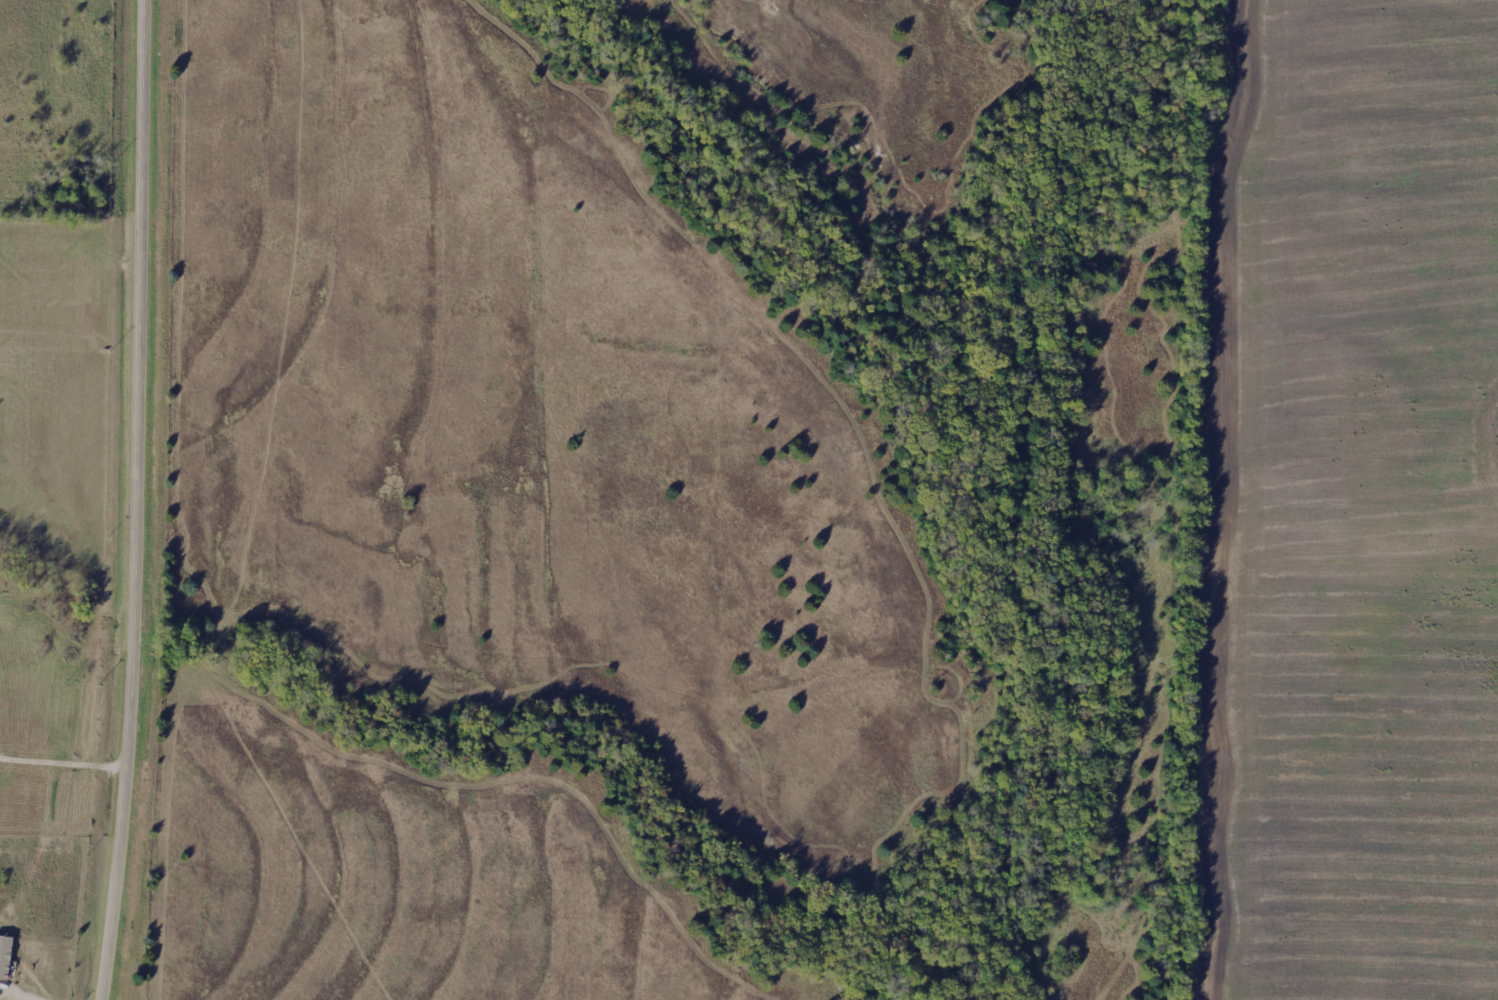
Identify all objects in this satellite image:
road: (142, 500)
road: (65, 759)
road: (25, 995)

